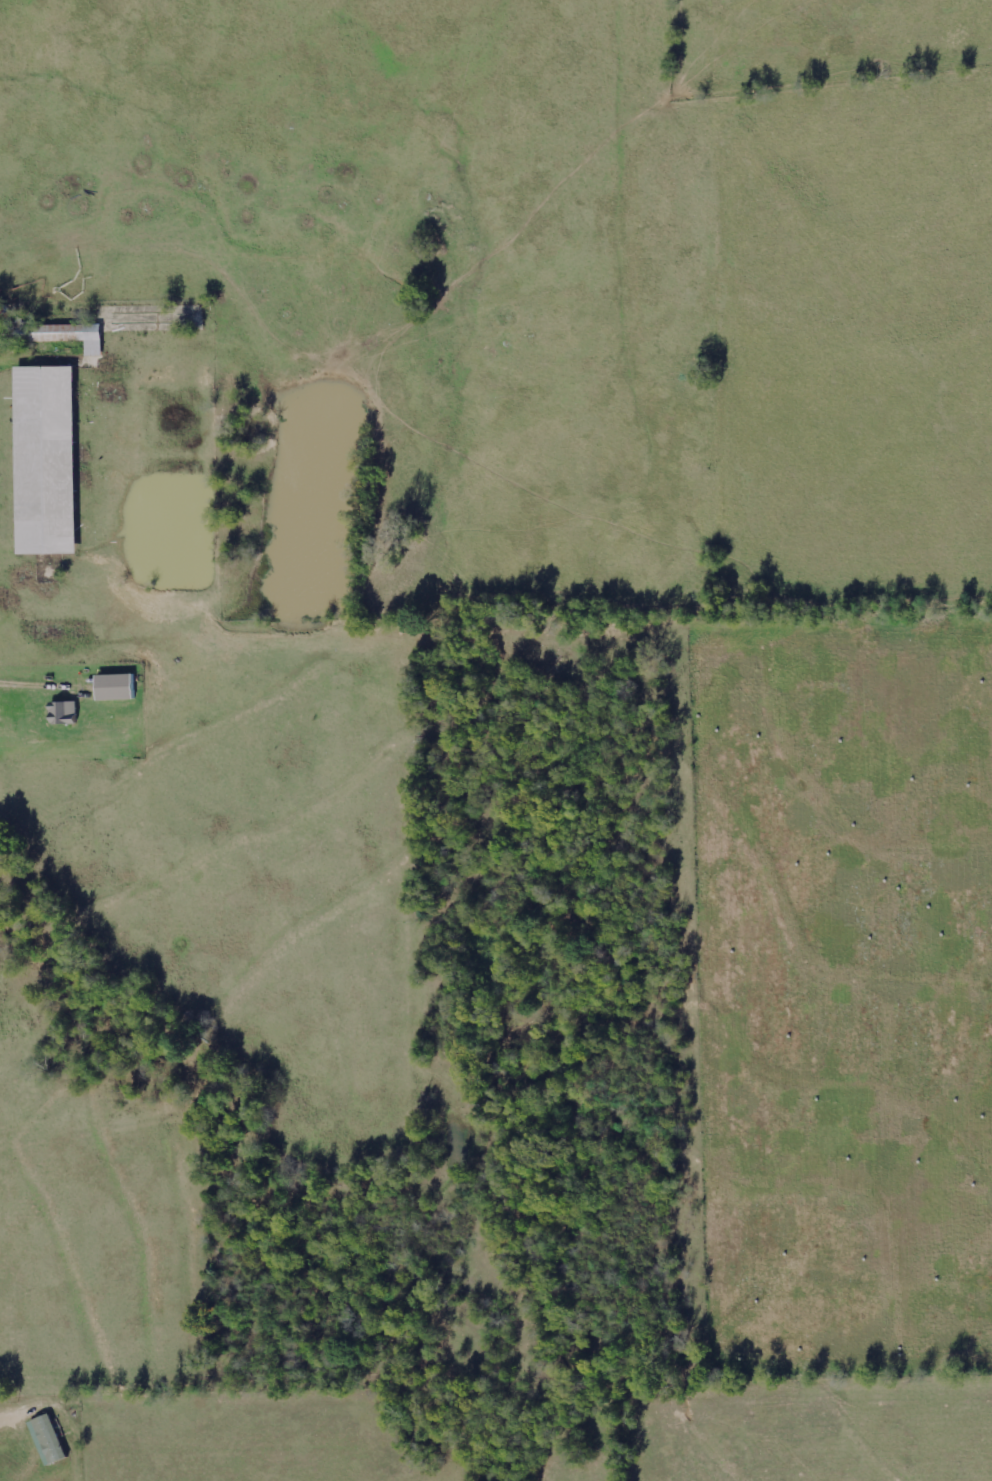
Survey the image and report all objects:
building: (113, 687)
building: (62, 713)
building: (46, 1439)

